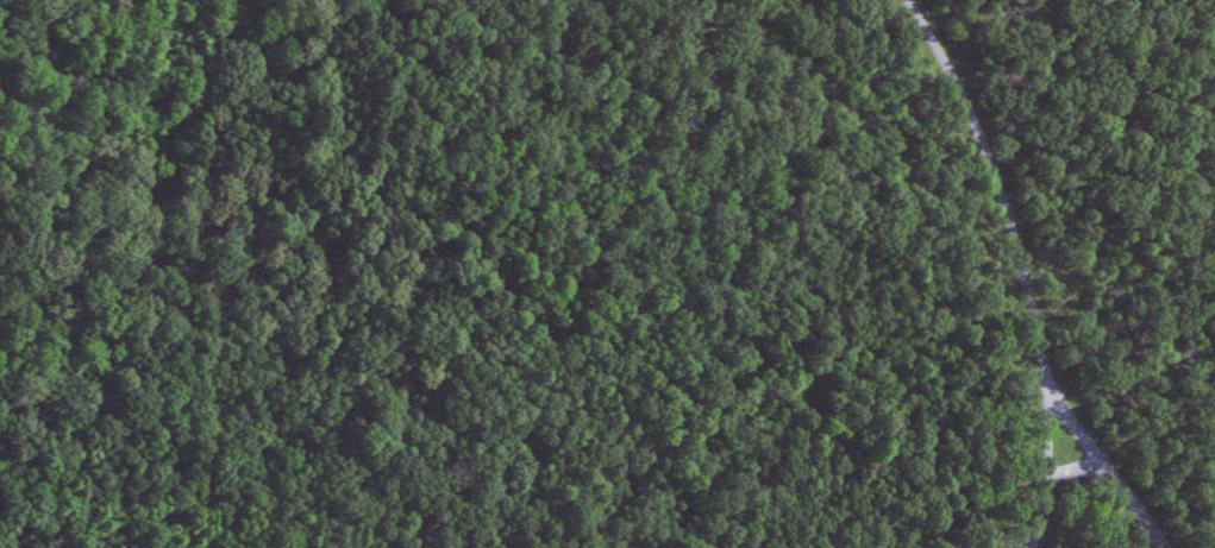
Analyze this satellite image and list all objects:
road: (1023, 263)
road: (1107, 464)
road: (1077, 465)

